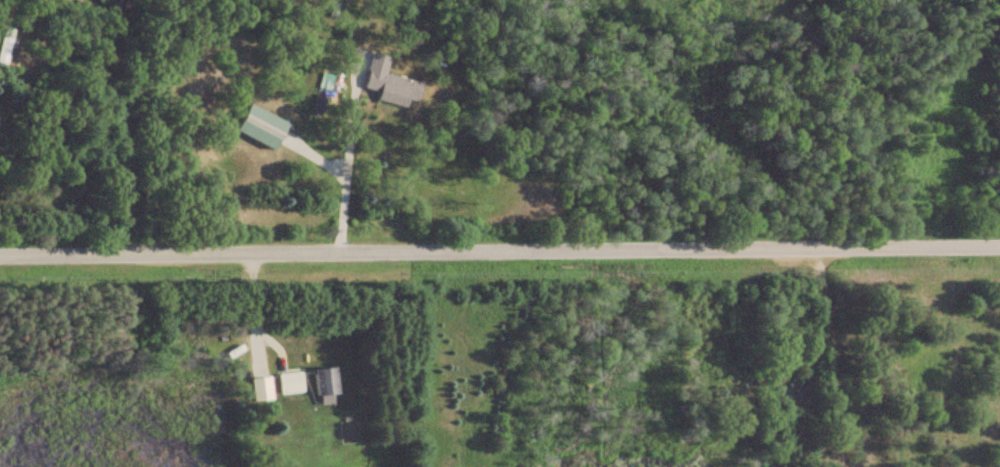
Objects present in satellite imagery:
building: (4, 47)
building: (385, 84)
road: (928, 109)
building: (251, 127)
road: (348, 162)
road: (500, 250)
road: (198, 355)
road: (828, 358)
building: (285, 383)
building: (319, 386)
building: (256, 390)

